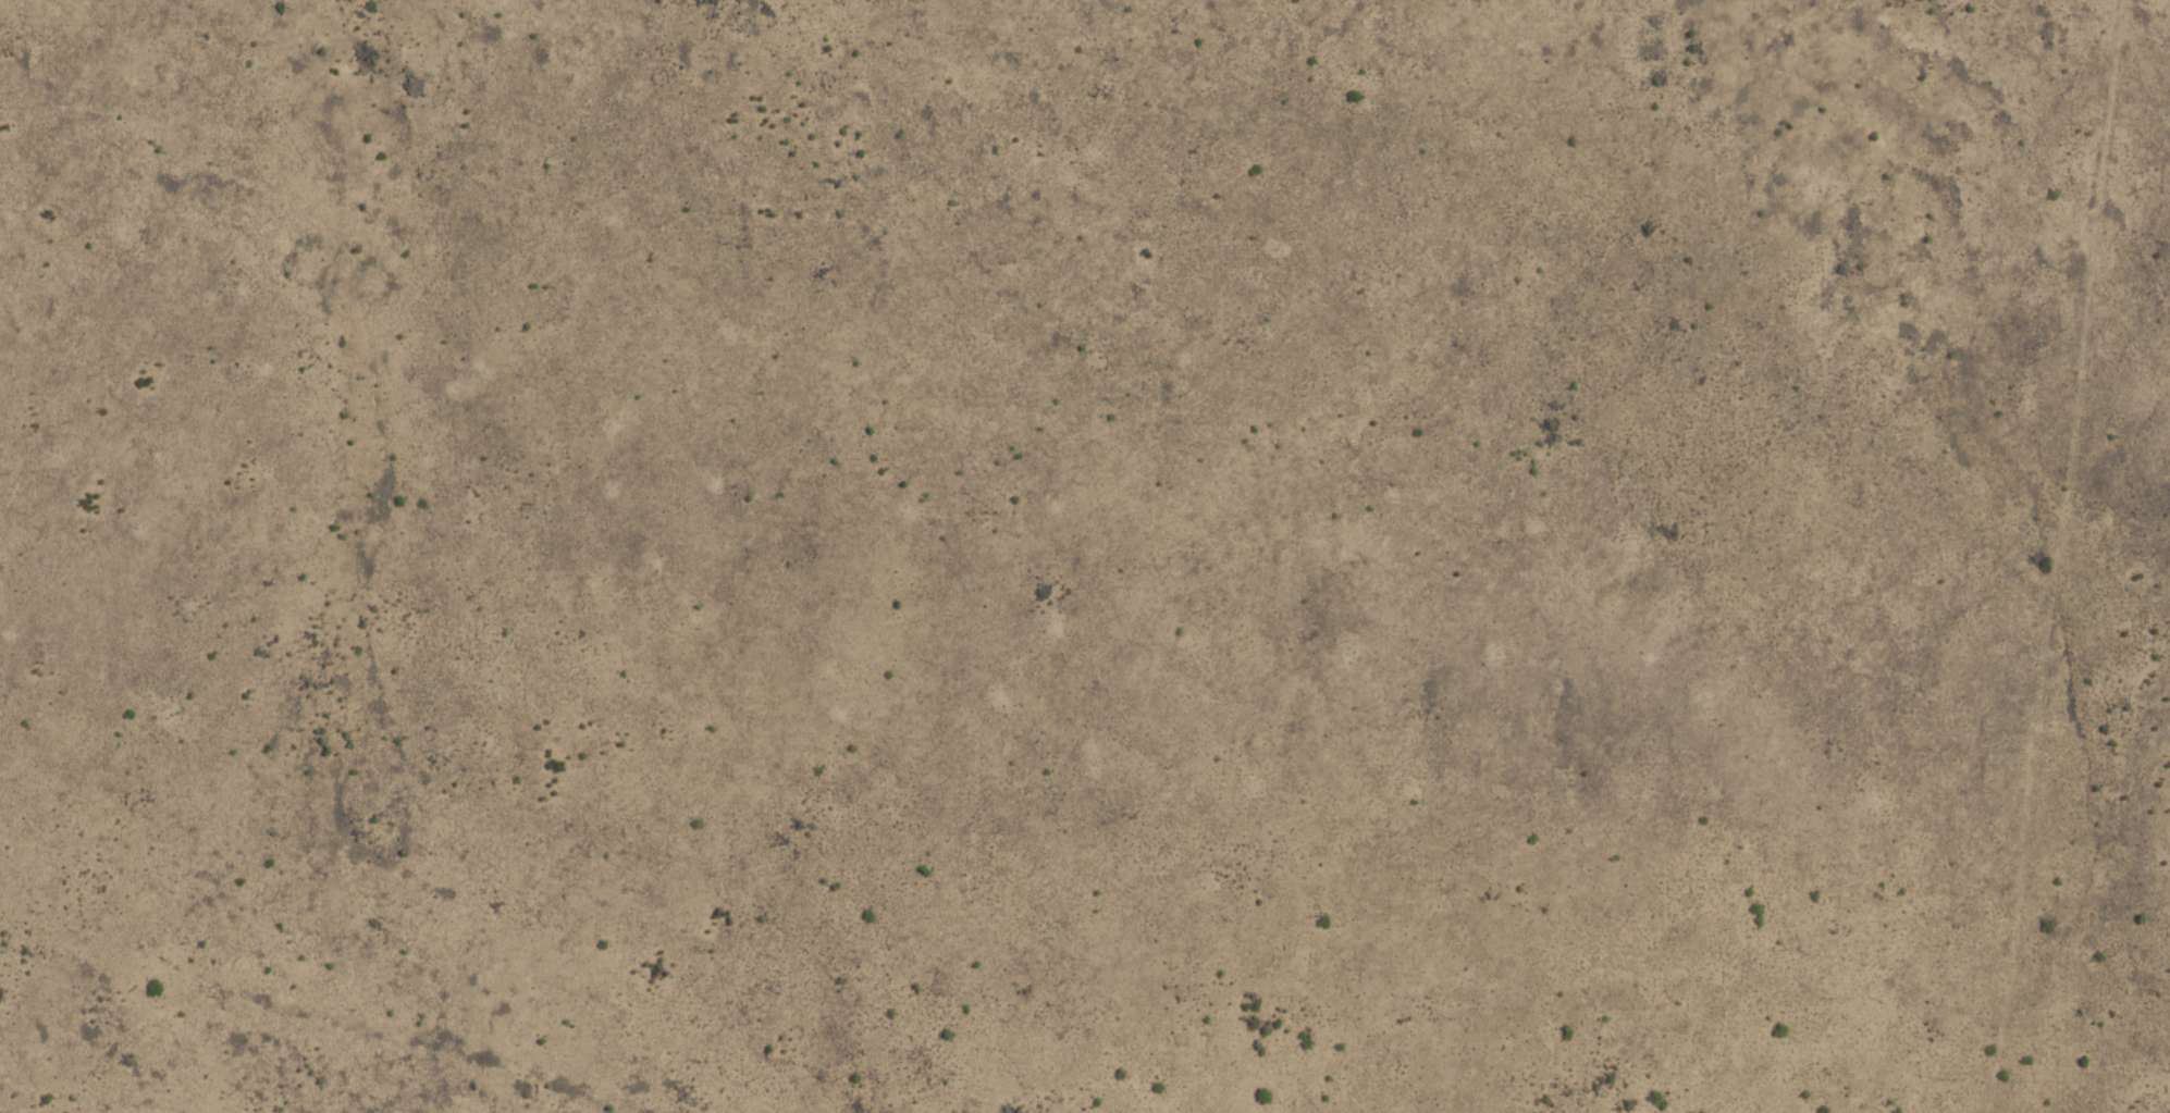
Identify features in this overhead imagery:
road: (2059, 556)

